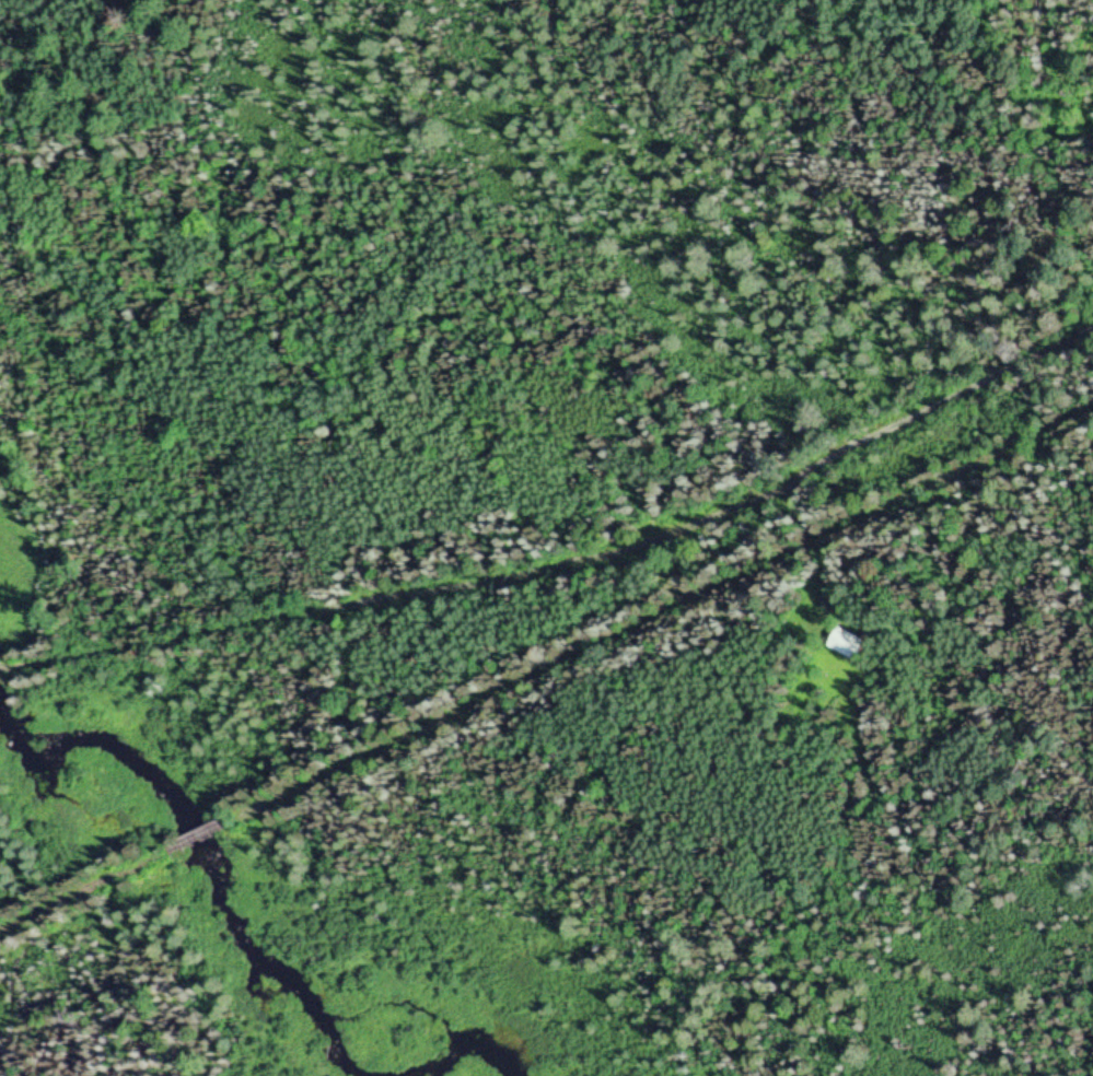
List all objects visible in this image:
road: (573, 563)
railway: (662, 613)
building: (848, 644)
road: (5, 669)
railway: (202, 832)
railway: (86, 890)
river: (240, 931)

